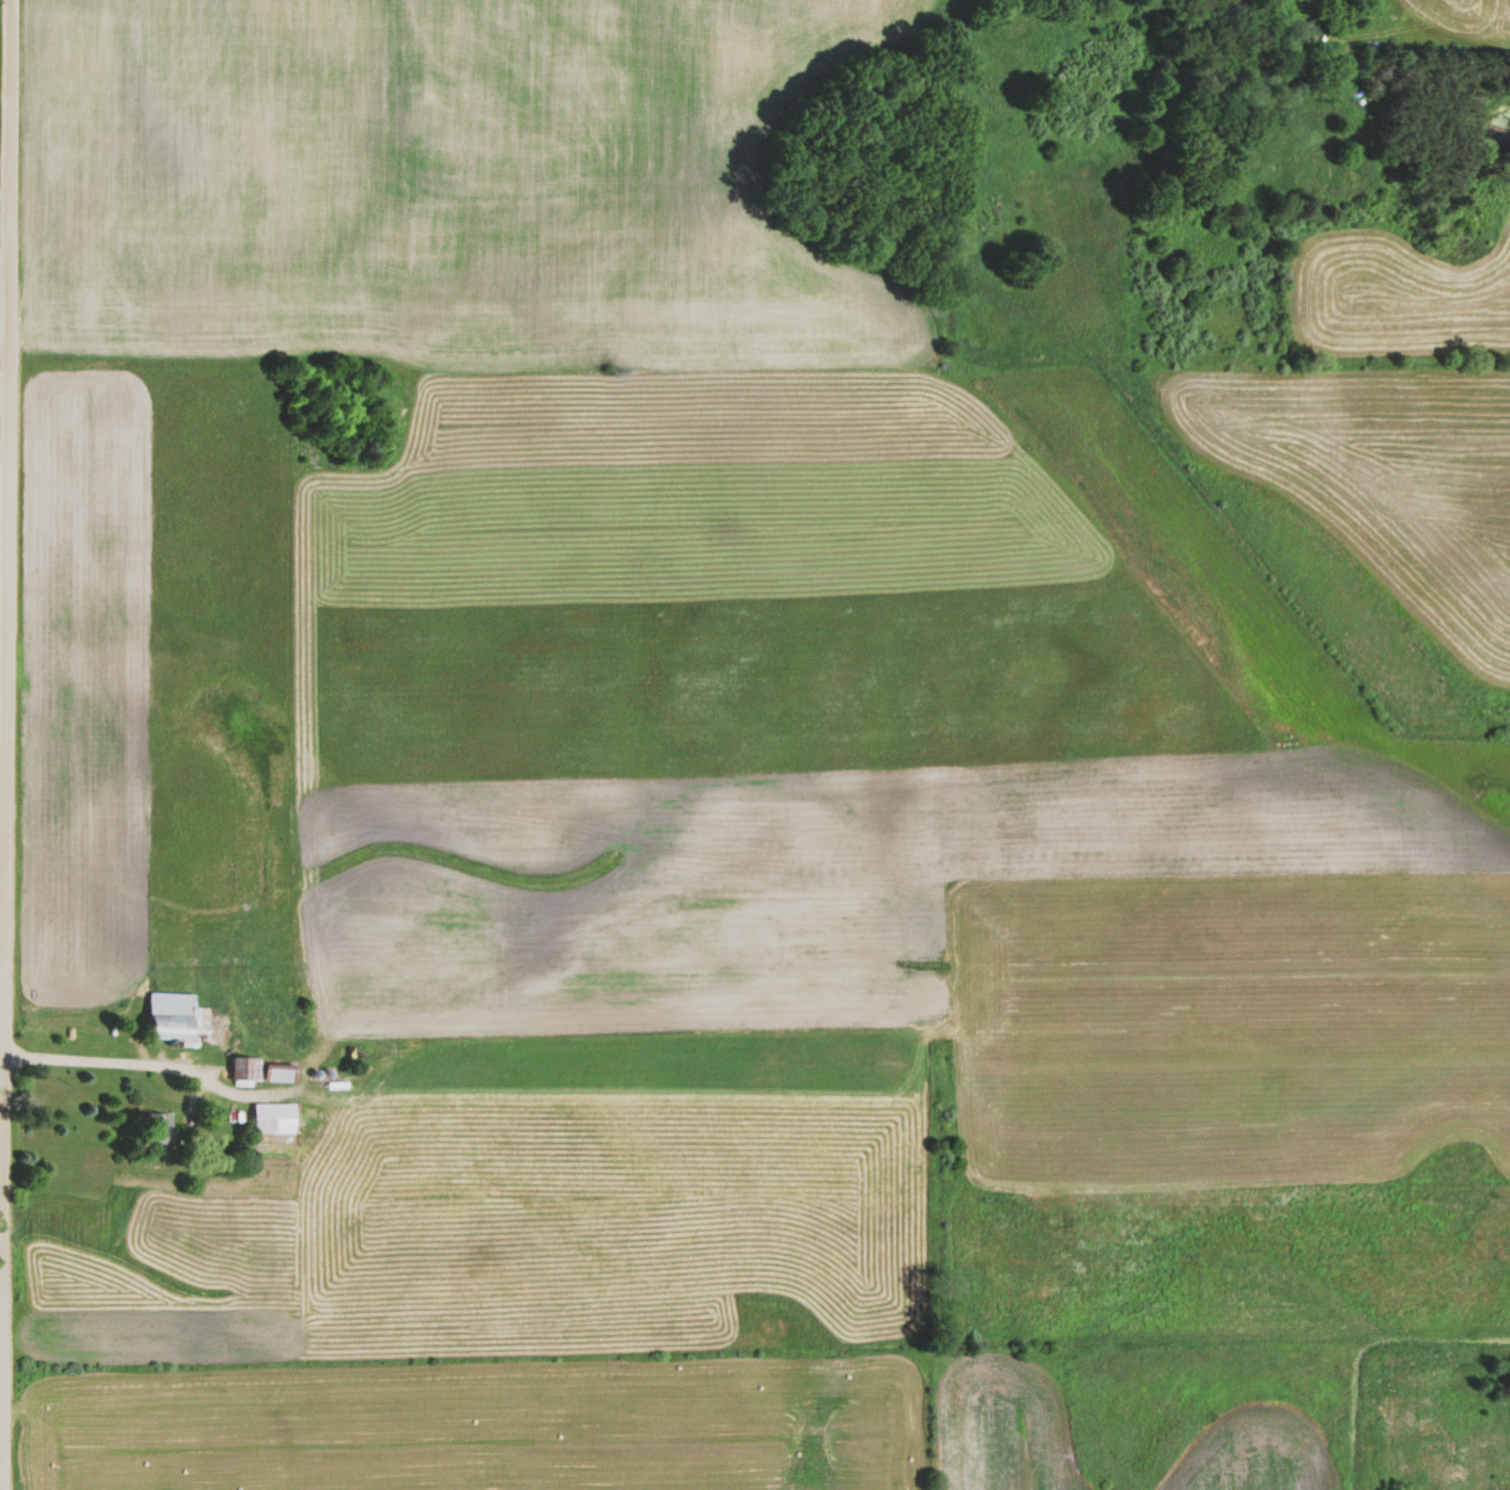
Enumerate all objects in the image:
road: (1, 87)
building: (177, 1018)
building: (246, 1072)
building: (275, 1119)

